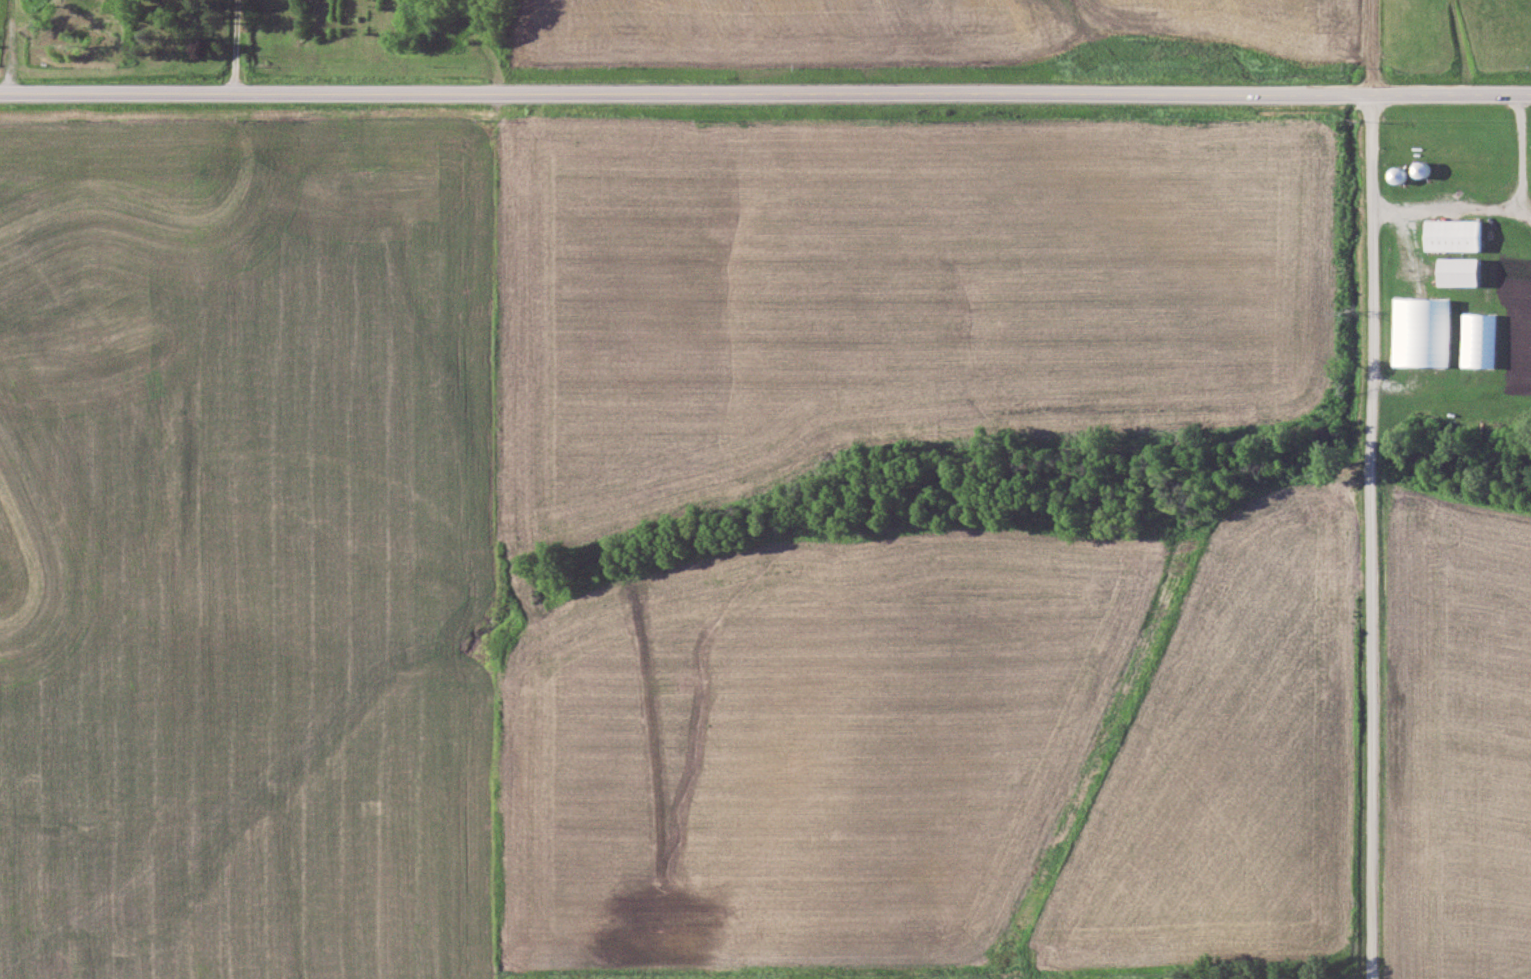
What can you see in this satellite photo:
road: (230, 45)
road: (1454, 45)
road: (765, 90)
building: (1423, 166)
building: (1399, 171)
road: (1494, 203)
building: (1455, 231)
building: (1462, 268)
building: (1417, 328)
road: (1368, 489)

